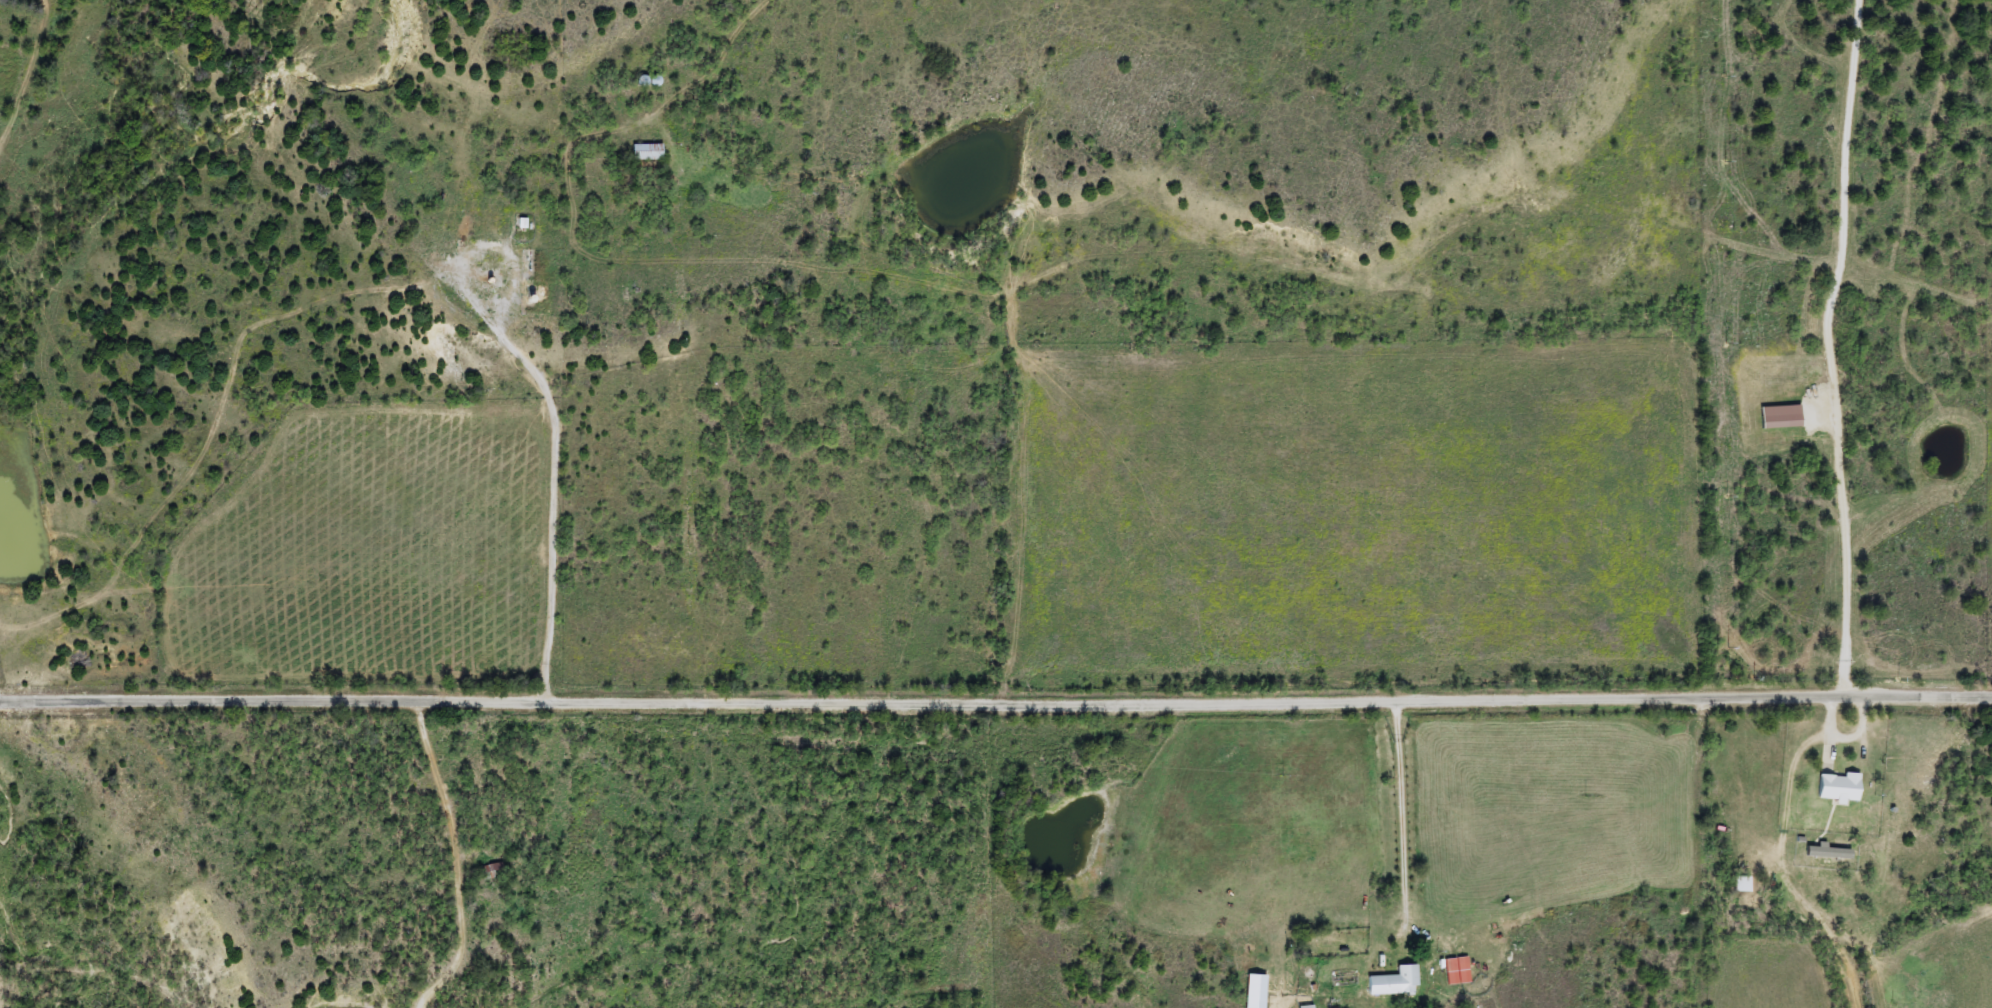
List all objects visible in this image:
road: (723, 36)
building: (648, 153)
road: (456, 298)
road: (1830, 348)
road: (849, 425)
road: (561, 508)
road: (338, 697)
road: (1334, 699)
building: (1839, 789)
road: (1400, 809)
road: (1693, 853)
road: (461, 856)
building: (492, 871)
building: (1742, 885)
building: (1395, 982)
building: (1306, 1007)

